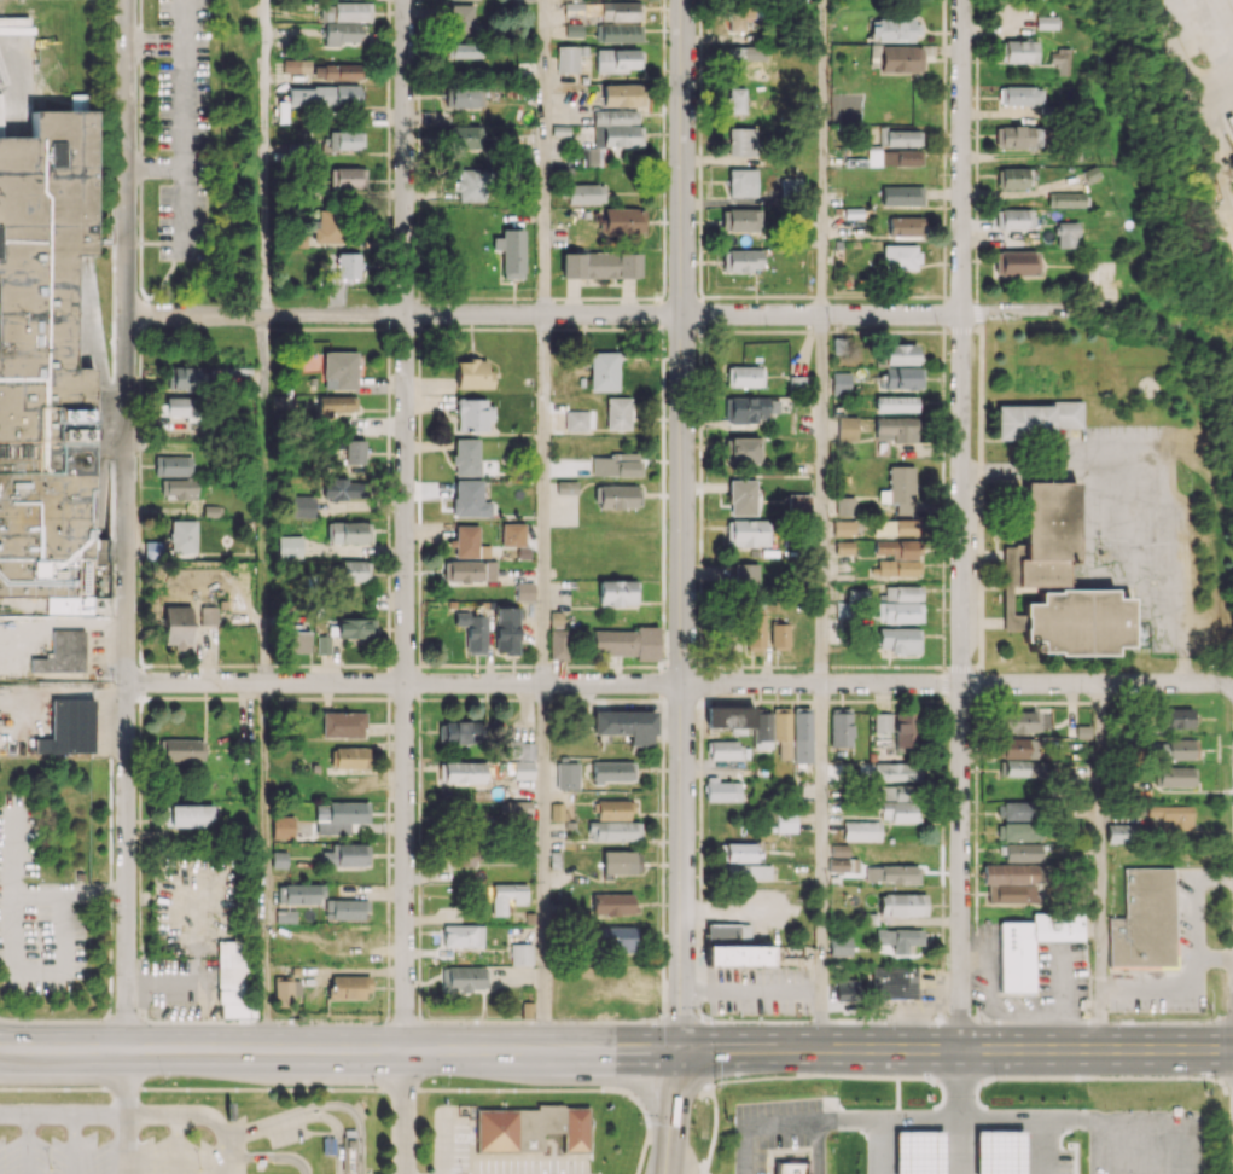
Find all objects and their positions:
building: (522, 0)
building: (572, 8)
building: (620, 10)
building: (345, 11)
building: (739, 16)
building: (461, 19)
building: (1046, 22)
building: (891, 29)
building: (574, 30)
building: (343, 33)
building: (620, 33)
building: (466, 50)
building: (1020, 51)
building: (744, 57)
building: (900, 58)
building: (566, 59)
building: (1059, 59)
building: (617, 60)
building: (295, 65)
building: (337, 71)
building: (620, 94)
building: (324, 95)
building: (1020, 95)
building: (464, 97)
building: (735, 100)
building: (440, 117)
building: (618, 127)
building: (1017, 136)
building: (465, 138)
building: (900, 138)
building: (345, 139)
building: (741, 141)
road: (263, 156)
building: (592, 156)
road: (545, 157)
building: (892, 157)
building: (562, 170)
building: (348, 176)
building: (1014, 178)
building: (743, 182)
building: (472, 184)
building: (792, 185)
building: (586, 193)
building: (901, 194)
building: (1066, 199)
building: (740, 219)
building: (1016, 219)
building: (623, 220)
building: (326, 226)
building: (905, 226)
building: (1066, 234)
building: (511, 254)
building: (900, 256)
building: (741, 260)
building: (1016, 262)
building: (349, 265)
building: (599, 265)
road: (902, 313)
road: (405, 314)
road: (822, 342)
building: (901, 353)
building: (45, 359)
building: (341, 368)
building: (604, 371)
building: (472, 374)
building: (744, 376)
building: (181, 378)
building: (903, 378)
building: (841, 383)
building: (895, 403)
building: (335, 405)
building: (176, 407)
building: (749, 408)
building: (472, 413)
building: (618, 413)
building: (1036, 419)
building: (576, 420)
building: (847, 428)
building: (896, 429)
building: (745, 449)
building: (354, 451)
building: (466, 455)
building: (616, 464)
building: (173, 465)
building: (566, 487)
building: (179, 488)
building: (901, 488)
building: (343, 489)
building: (617, 495)
building: (741, 496)
road: (263, 498)
building: (470, 499)
road: (545, 499)
building: (798, 504)
building: (845, 505)
building: (302, 506)
road: (126, 524)
road: (405, 525)
road: (682, 525)
road: (965, 525)
building: (895, 527)
building: (843, 528)
building: (348, 531)
building: (748, 533)
building: (512, 534)
building: (182, 536)
building: (467, 542)
building: (289, 546)
building: (843, 547)
building: (152, 548)
building: (897, 557)
building: (354, 570)
building: (471, 570)
building: (745, 576)
building: (1057, 581)
building: (524, 591)
building: (903, 592)
building: (617, 593)
building: (900, 612)
building: (208, 615)
building: (556, 618)
building: (176, 627)
building: (355, 628)
building: (506, 629)
building: (472, 630)
building: (754, 632)
building: (779, 637)
building: (898, 639)
building: (297, 641)
building: (624, 643)
building: (322, 644)
building: (558, 644)
building: (62, 652)
road: (403, 682)
road: (958, 684)
building: (729, 717)
building: (1174, 717)
building: (882, 721)
building: (1024, 721)
building: (342, 723)
building: (626, 725)
building: (68, 727)
building: (841, 727)
building: (773, 731)
building: (905, 731)
building: (461, 732)
building: (801, 737)
building: (1018, 746)
building: (182, 749)
building: (517, 749)
building: (1176, 749)
building: (726, 750)
building: (350, 757)
building: (1013, 768)
building: (523, 769)
building: (612, 771)
building: (896, 771)
building: (464, 772)
building: (566, 775)
building: (1175, 775)
building: (722, 791)
building: (897, 803)
building: (613, 809)
building: (516, 810)
building: (1016, 810)
building: (557, 812)
building: (188, 815)
building: (338, 816)
building: (1173, 816)
building: (784, 821)
building: (281, 826)
building: (613, 830)
building: (861, 830)
building: (1018, 831)
building: (1118, 832)
building: (739, 852)
building: (1023, 852)
building: (345, 854)
building: (467, 854)
building: (278, 859)
building: (841, 859)
building: (621, 862)
road: (264, 866)
road: (1101, 866)
road: (543, 867)
road: (822, 867)
building: (745, 871)
building: (892, 873)
building: (1014, 882)
building: (301, 893)
road: (68, 894)
building: (507, 896)
road: (1194, 900)
building: (612, 903)
building: (902, 903)
building: (344, 908)
building: (284, 916)
building: (1144, 919)
building: (348, 935)
building: (463, 935)
building: (618, 937)
building: (900, 937)
building: (1031, 945)
building: (733, 946)
building: (839, 946)
building: (520, 953)
building: (464, 977)
building: (232, 978)
building: (894, 981)
road: (1174, 982)
building: (348, 987)
building: (285, 989)
building: (847, 989)
road: (751, 990)
road: (339, 1051)
traffic signals: (680, 1052)
road: (956, 1052)
road: (677, 1091)
road: (126, 1112)
road: (403, 1112)
road: (63, 1114)
road: (1069, 1115)
road: (863, 1116)
road: (271, 1121)
building: (530, 1128)
road: (1040, 1144)
road: (818, 1146)
road: (222, 1150)
road: (673, 1152)
building: (918, 1152)
building: (999, 1152)
building: (348, 1153)
building: (790, 1168)

